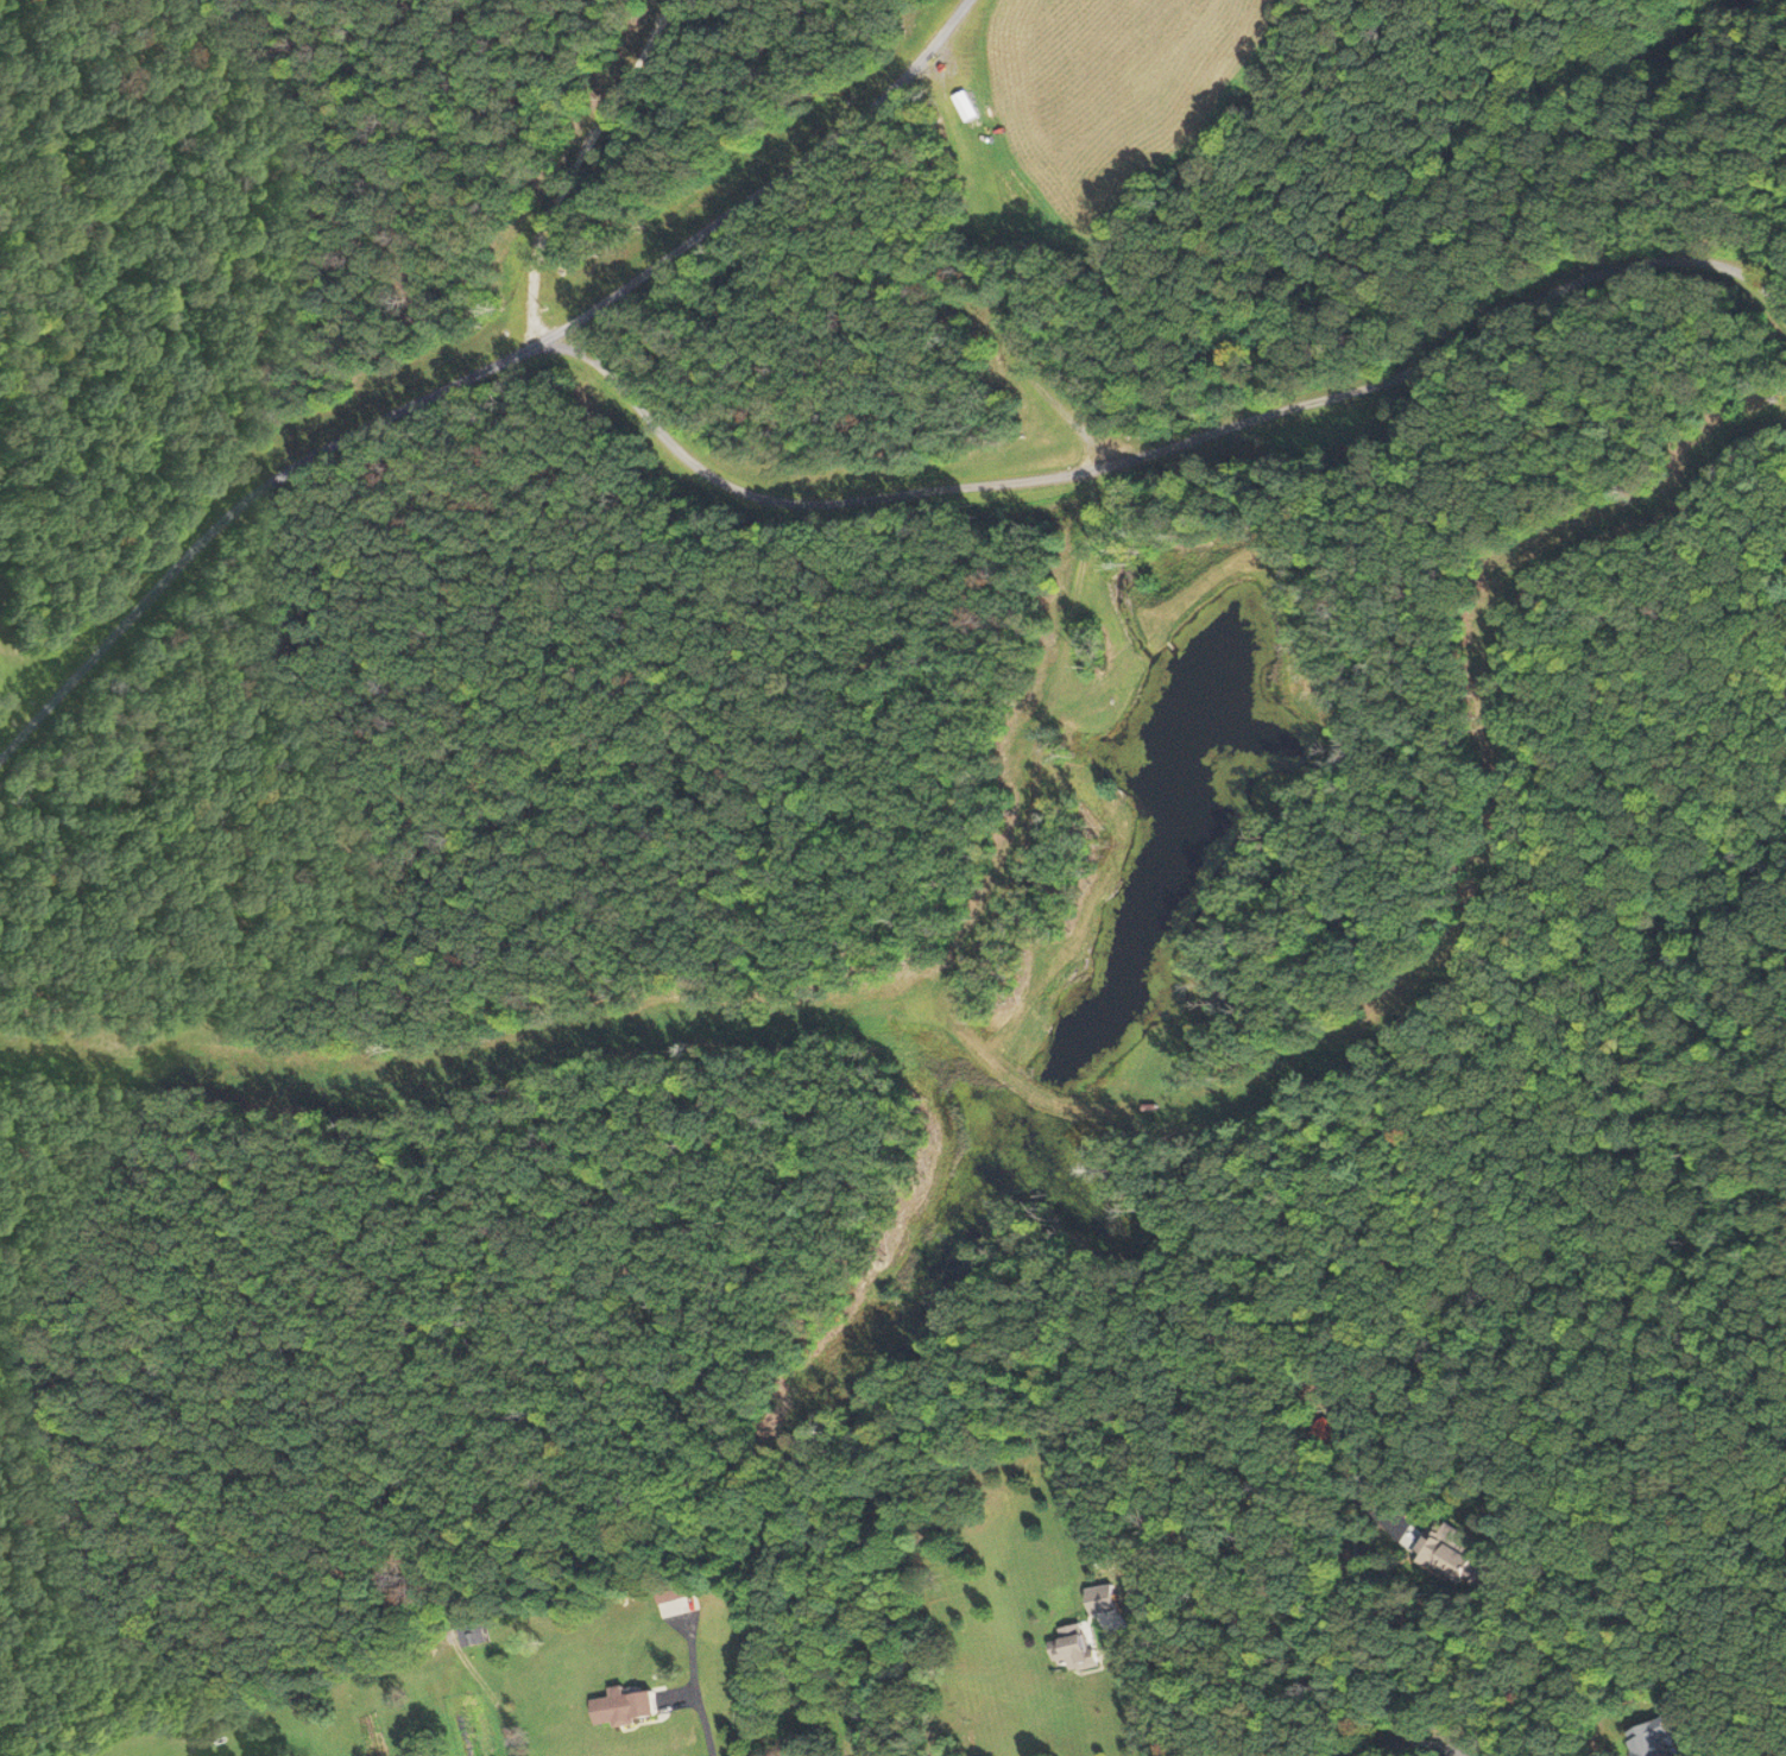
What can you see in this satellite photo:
building: (966, 105)
road: (574, 163)
road: (473, 371)
road: (1154, 444)
building: (1447, 1554)
building: (687, 1596)
building: (471, 1636)
building: (1074, 1651)
road: (1140, 1703)
building: (625, 1707)
building: (1656, 1739)
road: (1430, 1755)

